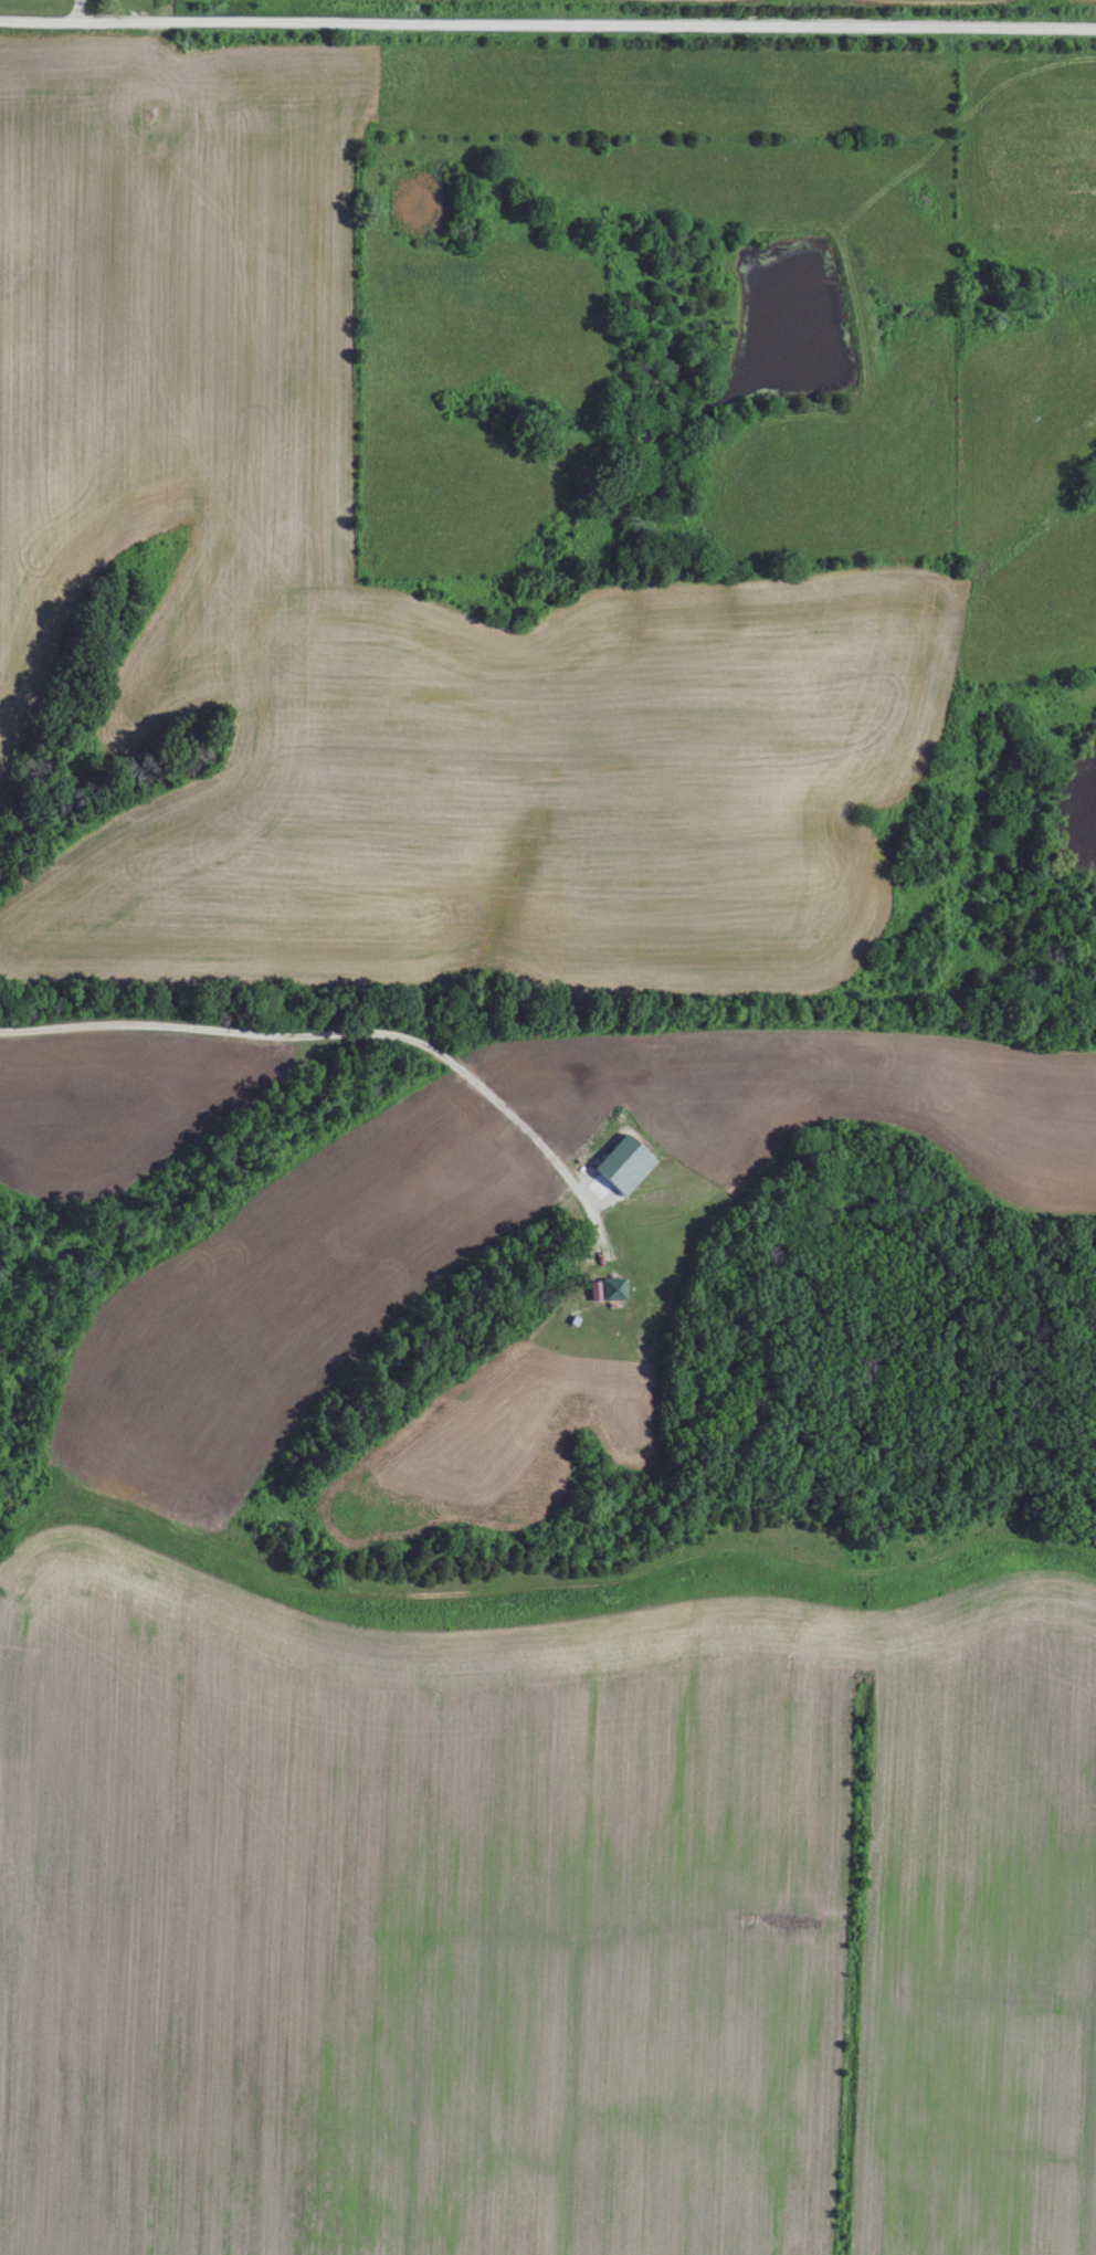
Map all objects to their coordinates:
road: (548, 17)
building: (612, 1288)

